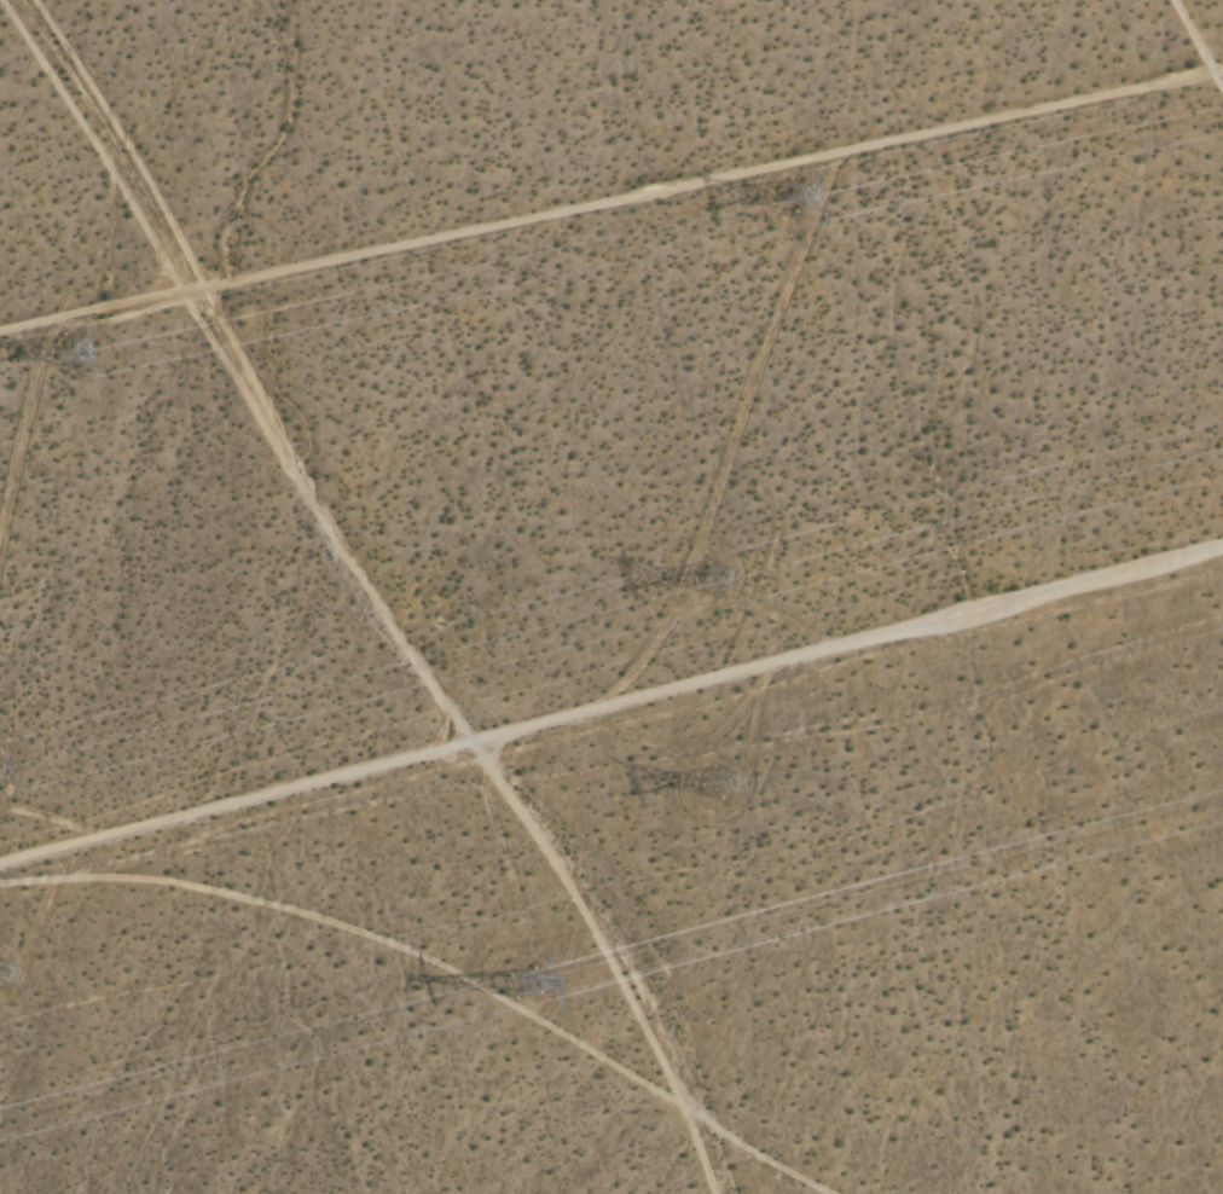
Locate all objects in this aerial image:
power tower: (801, 189)
power tower: (81, 346)
power tower: (719, 578)
road: (610, 694)
power tower: (730, 783)
road: (620, 945)
power tower: (1, 973)
power tower: (531, 979)

